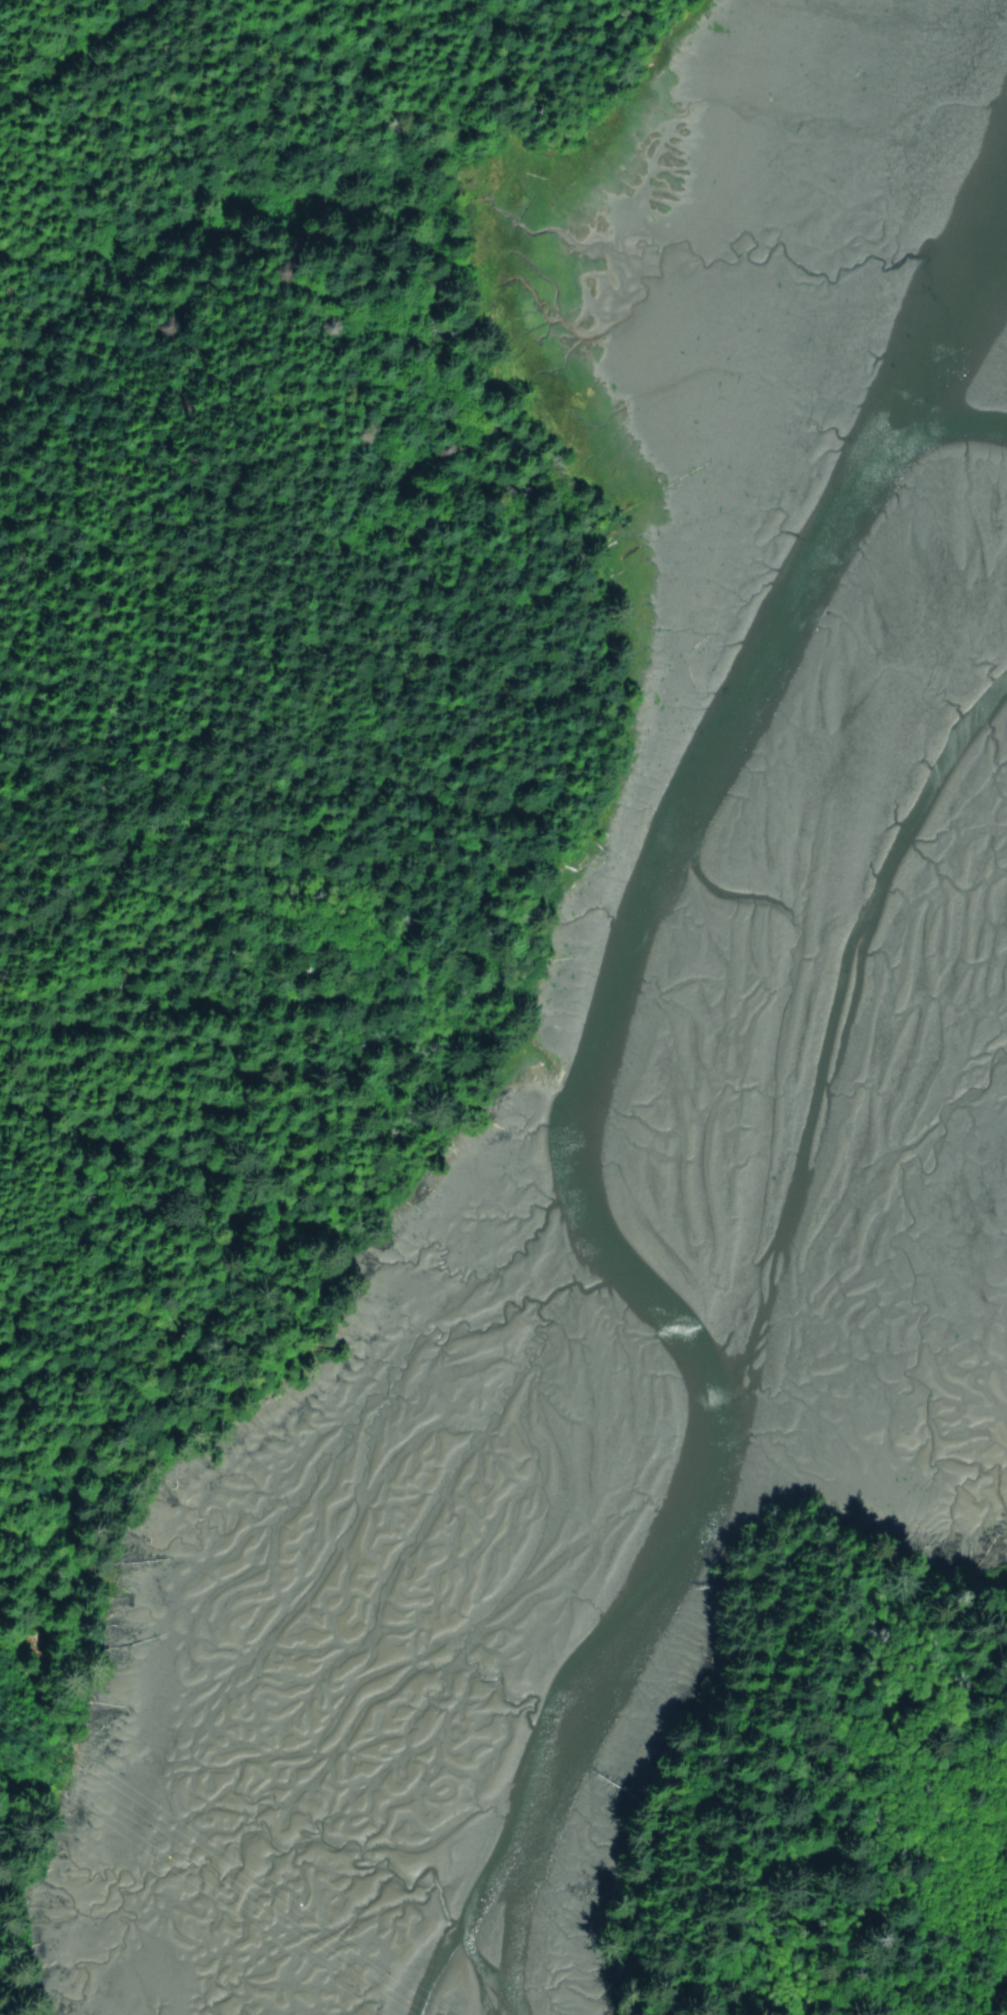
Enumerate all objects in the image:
road: (77, 51)
road: (998, 1988)

